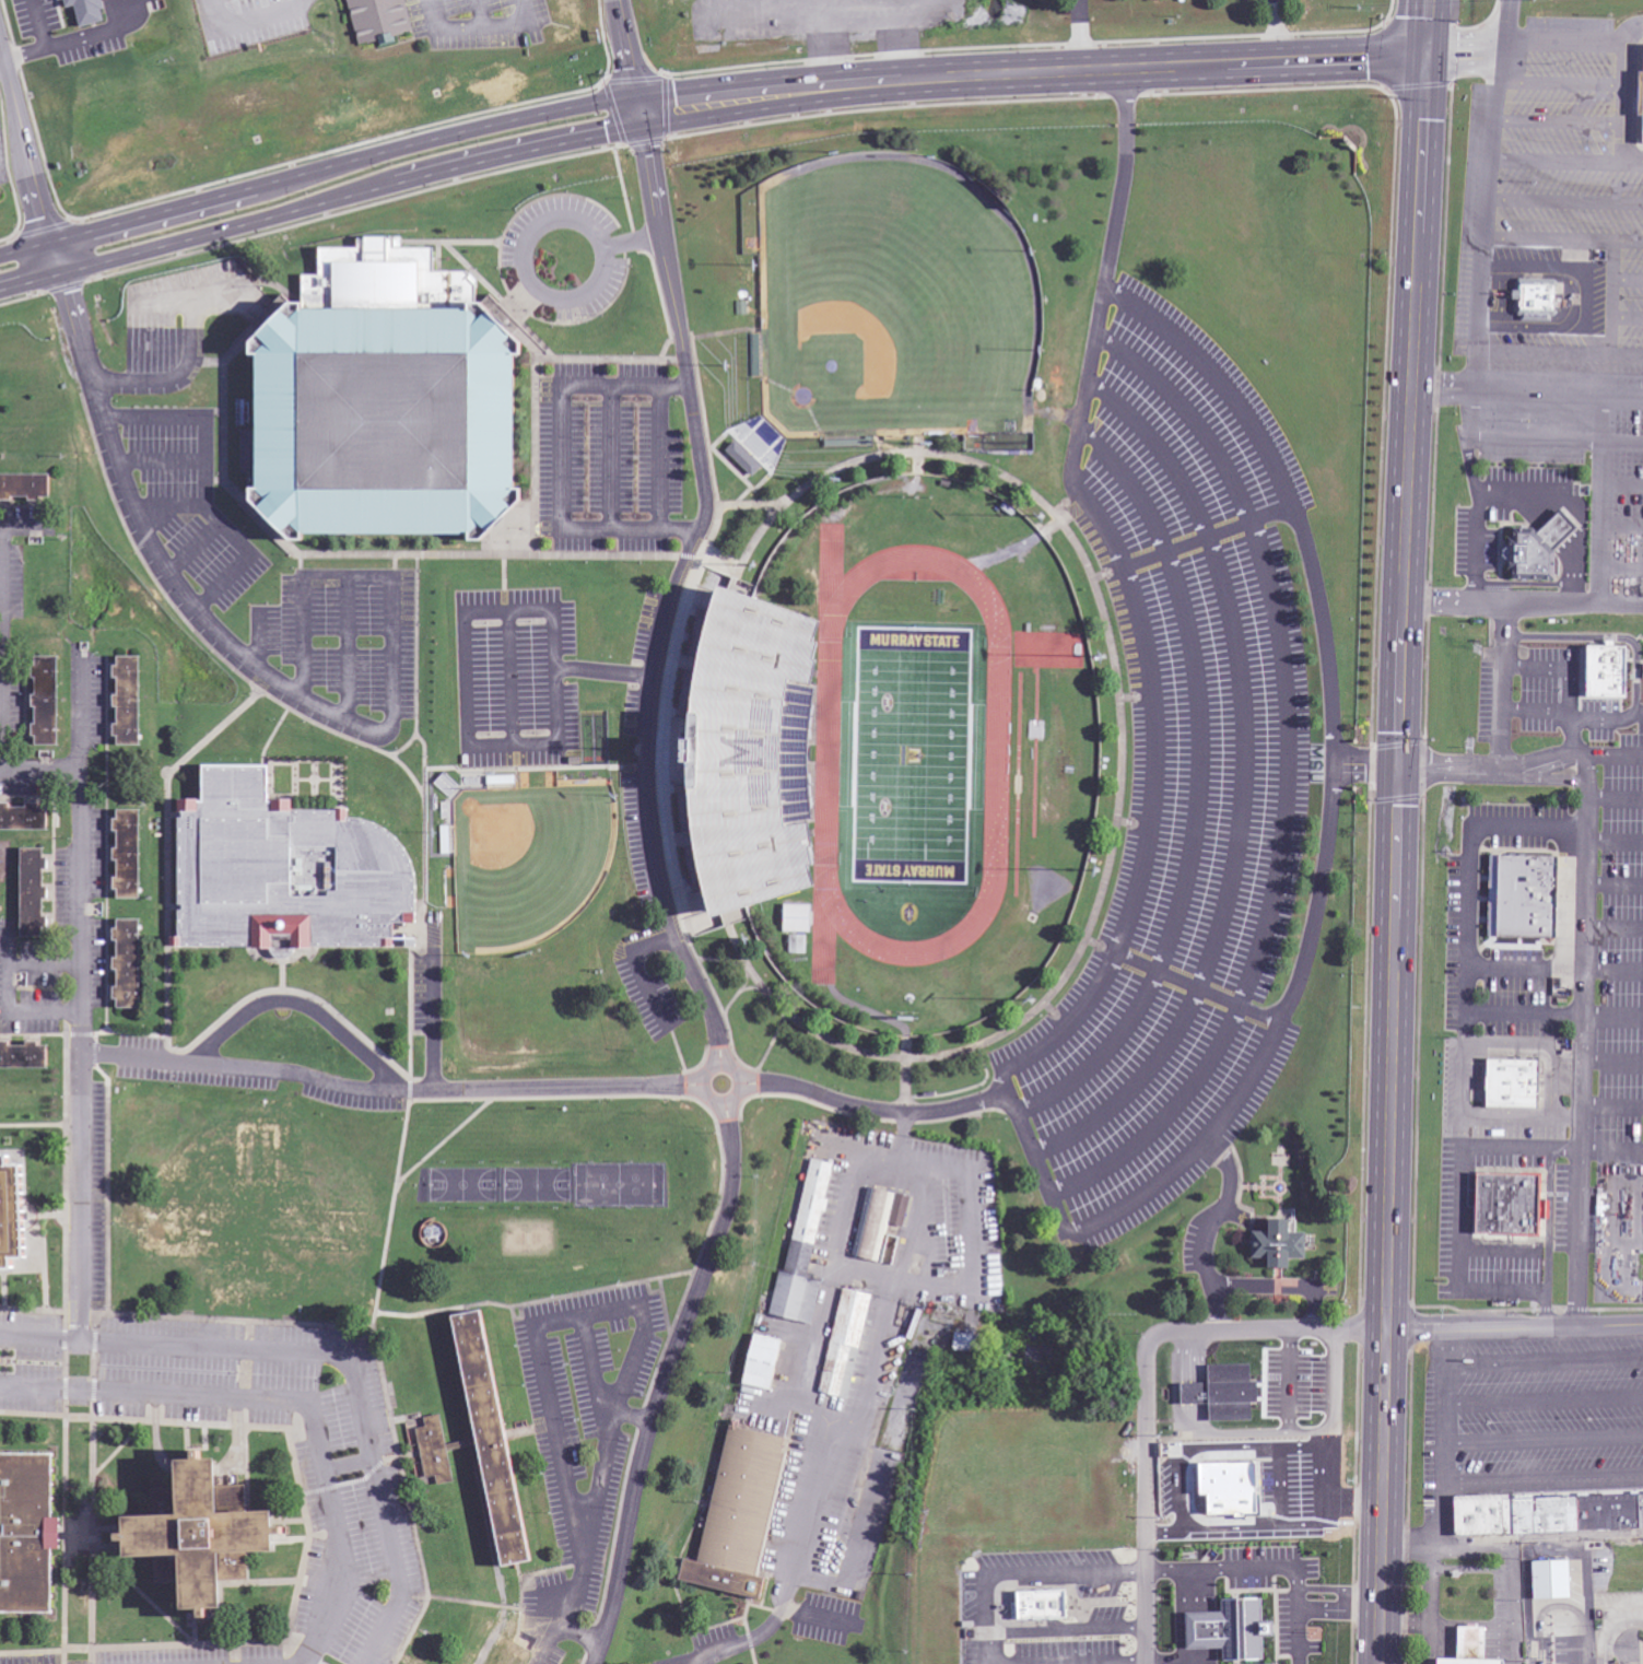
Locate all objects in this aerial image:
building: (92, 12)
building: (382, 21)
road: (1427, 27)
road: (1277, 31)
road: (1634, 34)
road: (1083, 35)
road: (1595, 40)
road: (634, 55)
traffic signals: (1425, 56)
road: (1, 61)
road: (1560, 82)
building: (1640, 95)
road: (703, 102)
traffic signals: (647, 110)
road: (1558, 121)
road: (30, 152)
road: (1556, 161)
road: (1565, 201)
road: (622, 212)
road: (1116, 228)
road: (1563, 239)
parking lot: (562, 260)
road: (1628, 279)
road: (549, 296)
road: (1612, 297)
building: (1530, 298)
road: (1480, 301)
road: (163, 303)
park: (893, 310)
road: (1628, 317)
road: (1560, 353)
road: (187, 361)
road: (1219, 380)
road: (1526, 398)
building: (365, 431)
stadium: (365, 431)
road: (1078, 434)
building: (762, 441)
road: (1557, 442)
parking lot: (610, 455)
road: (612, 457)
road: (659, 457)
building: (747, 459)
road: (562, 461)
road: (160, 462)
road: (204, 483)
road: (1621, 484)
building: (27, 487)
parking lot: (161, 497)
road: (1599, 503)
road: (168, 506)
road: (1621, 526)
road: (699, 527)
building: (491, 534)
road: (195, 549)
building: (1536, 549)
road: (156, 558)
road: (1620, 566)
road: (352, 576)
road: (1441, 602)
road: (1559, 605)
road: (5, 631)
road: (463, 637)
road: (259, 638)
road: (348, 649)
road: (1334, 669)
road: (1573, 669)
building: (1600, 671)
road: (510, 678)
parking lot: (515, 679)
road: (1503, 687)
building: (600, 699)
building: (51, 701)
building: (134, 701)
road: (1572, 711)
road: (1616, 754)
stadium: (891, 755)
park: (912, 757)
building: (730, 764)
road: (1587, 765)
traffic signals: (1399, 769)
road: (39, 770)
road: (1288, 778)
parking lot: (1177, 780)
road: (1243, 783)
road: (1199, 789)
road: (1615, 799)
road: (1151, 805)
building: (26, 818)
road: (1615, 841)
building: (133, 855)
road: (1397, 859)
park: (520, 860)
building: (289, 872)
road: (1613, 884)
building: (37, 893)
road: (1319, 897)
building: (1518, 897)
building: (798, 918)
road: (1613, 928)
building: (797, 945)
building: (133, 964)
road: (1554, 970)
road: (1198, 987)
road: (80, 997)
road: (708, 1007)
road: (1584, 1009)
road: (1554, 1013)
road: (1545, 1044)
building: (25, 1057)
road: (1612, 1062)
road: (1465, 1064)
building: (1506, 1083)
road: (400, 1089)
road: (865, 1108)
road: (1612, 1108)
road: (1523, 1116)
road: (1552, 1147)
road: (1230, 1168)
building: (0, 1194)
building: (1503, 1205)
building: (31, 1221)
building: (875, 1224)
road: (1072, 1235)
building: (1284, 1245)
road: (1500, 1249)
building: (805, 1251)
road: (1289, 1288)
road: (1515, 1332)
building: (846, 1340)
building: (966, 1343)
road: (331, 1356)
building: (766, 1363)
road: (669, 1373)
road: (1148, 1385)
building: (1230, 1394)
road: (290, 1403)
building: (502, 1434)
building: (436, 1452)
road: (350, 1466)
building: (1243, 1492)
road: (64, 1500)
road: (93, 1500)
building: (741, 1514)
building: (1545, 1514)
building: (30, 1534)
building: (193, 1555)
building: (1547, 1581)
building: (1048, 1606)
building: (1249, 1609)
building: (1465, 1647)
building: (514, 1659)

